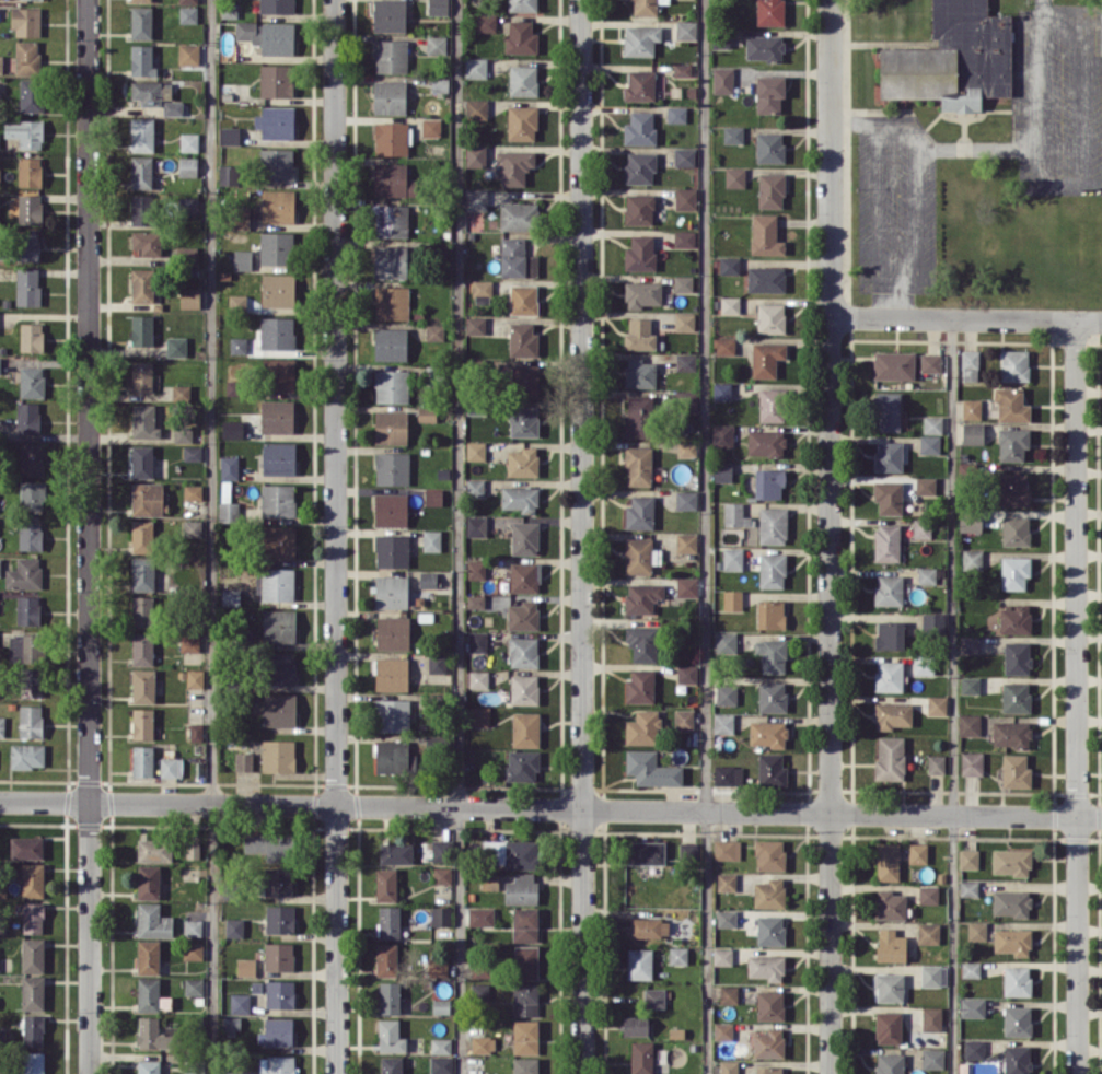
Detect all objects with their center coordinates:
building: (140, 0)
building: (187, 1)
building: (522, 5)
building: (276, 7)
building: (438, 7)
building: (647, 7)
building: (769, 12)
building: (188, 14)
building: (388, 15)
building: (26, 21)
building: (140, 22)
building: (486, 23)
building: (685, 30)
building: (268, 36)
building: (520, 37)
building: (640, 39)
building: (436, 44)
building: (764, 47)
building: (188, 54)
building: (390, 56)
building: (27, 57)
building: (952, 58)
building: (141, 60)
building: (1, 63)
building: (475, 67)
building: (682, 69)
building: (276, 80)
building: (522, 80)
building: (722, 80)
building: (440, 84)
building: (639, 84)
building: (146, 92)
building: (165, 92)
building: (769, 93)
building: (31, 94)
building: (388, 96)
building: (172, 107)
building: (476, 108)
building: (676, 114)
building: (276, 121)
building: (522, 122)
building: (431, 127)
building: (639, 128)
road: (1034, 130)
building: (25, 132)
building: (141, 135)
building: (732, 135)
building: (230, 136)
building: (391, 138)
building: (188, 141)
building: (769, 147)
building: (475, 155)
building: (684, 156)
building: (277, 164)
building: (187, 166)
building: (514, 166)
building: (639, 167)
building: (30, 171)
building: (141, 172)
building: (229, 174)
building: (0, 177)
building: (734, 177)
building: (392, 180)
road: (914, 185)
building: (770, 189)
building: (685, 198)
building: (476, 199)
building: (186, 206)
building: (277, 206)
building: (30, 208)
road: (878, 208)
building: (142, 209)
building: (639, 209)
building: (518, 215)
building: (239, 218)
building: (391, 221)
building: (765, 234)
building: (684, 238)
building: (147, 243)
building: (27, 246)
building: (276, 247)
building: (186, 253)
building: (639, 253)
building: (517, 258)
building: (242, 259)
building: (390, 261)
building: (729, 265)
building: (766, 279)
building: (683, 283)
building: (142, 285)
building: (27, 287)
building: (278, 290)
building: (482, 291)
building: (642, 293)
building: (189, 297)
building: (523, 299)
building: (237, 302)
building: (391, 302)
building: (730, 304)
building: (770, 317)
road: (965, 320)
building: (684, 322)
building: (475, 325)
building: (141, 329)
building: (434, 331)
building: (277, 332)
building: (639, 335)
building: (31, 337)
building: (522, 339)
building: (390, 343)
building: (237, 345)
building: (176, 346)
building: (724, 346)
building: (766, 359)
building: (685, 361)
building: (930, 362)
building: (0, 364)
building: (893, 364)
building: (970, 364)
building: (1014, 364)
building: (639, 373)
building: (279, 374)
building: (141, 375)
building: (524, 381)
building: (31, 382)
building: (392, 385)
building: (234, 387)
building: (721, 390)
building: (181, 393)
building: (685, 401)
building: (770, 404)
building: (1011, 405)
building: (971, 408)
building: (886, 411)
building: (427, 413)
building: (276, 416)
building: (638, 416)
building: (27, 418)
building: (144, 421)
building: (523, 421)
building: (931, 424)
building: (391, 427)
building: (232, 429)
building: (183, 432)
building: (972, 433)
building: (722, 435)
building: (766, 442)
building: (1012, 443)
building: (929, 444)
building: (687, 448)
building: (475, 450)
building: (192, 453)
building: (888, 456)
building: (278, 458)
building: (31, 460)
building: (141, 462)
building: (522, 462)
building: (638, 465)
building: (229, 467)
building: (392, 468)
building: (722, 471)
building: (769, 482)
building: (925, 485)
building: (475, 488)
building: (1013, 489)
building: (193, 491)
building: (32, 494)
building: (432, 497)
building: (888, 497)
building: (147, 499)
building: (520, 499)
building: (277, 500)
building: (686, 500)
building: (391, 509)
building: (639, 512)
building: (734, 515)
building: (773, 525)
building: (476, 526)
building: (193, 527)
building: (921, 528)
building: (1014, 530)
building: (30, 535)
building: (142, 536)
road: (211, 536)
road: (336, 536)
road: (459, 536)
road: (830, 536)
road: (89, 537)
road: (583, 537)
road: (706, 537)
building: (524, 538)
building: (431, 540)
building: (686, 541)
building: (279, 542)
building: (886, 542)
building: (392, 550)
building: (640, 556)
building: (732, 558)
building: (972, 559)
building: (0, 565)
building: (476, 569)
building: (772, 570)
building: (1014, 572)
building: (24, 573)
building: (142, 573)
building: (926, 574)
building: (525, 576)
building: (428, 580)
building: (275, 584)
building: (686, 586)
building: (889, 589)
building: (391, 592)
building: (230, 596)
building: (642, 597)
building: (732, 599)
building: (475, 602)
building: (27, 610)
building: (142, 610)
building: (770, 614)
building: (523, 615)
building: (1016, 618)
building: (932, 623)
building: (279, 626)
building: (392, 632)
building: (890, 634)
building: (477, 641)
building: (189, 642)
building: (642, 642)
building: (726, 642)
building: (968, 643)
building: (25, 647)
building: (141, 649)
building: (523, 652)
building: (772, 654)
building: (1017, 657)
building: (436, 663)
building: (923, 664)
building: (281, 667)
building: (686, 673)
building: (391, 674)
building: (889, 676)
building: (195, 678)
building: (476, 678)
building: (30, 681)
building: (968, 685)
building: (143, 686)
building: (639, 686)
building: (524, 689)
building: (726, 694)
building: (772, 696)
road: (952, 697)
building: (1016, 697)
road: (1077, 698)
building: (937, 704)
building: (279, 710)
building: (892, 714)
building: (392, 715)
building: (479, 715)
building: (684, 719)
building: (31, 721)
building: (142, 723)
building: (723, 723)
building: (968, 724)
building: (2, 726)
building: (642, 727)
building: (525, 729)
building: (195, 732)
building: (767, 733)
building: (1011, 734)
building: (26, 756)
building: (278, 756)
building: (392, 756)
building: (890, 757)
building: (142, 760)
building: (243, 761)
building: (971, 762)
building: (936, 763)
building: (522, 766)
building: (171, 767)
building: (651, 769)
building: (772, 769)
building: (1014, 771)
building: (727, 774)
road: (550, 809)
building: (271, 845)
building: (25, 848)
building: (727, 849)
building: (154, 850)
building: (193, 850)
building: (441, 850)
building: (687, 850)
building: (646, 852)
building: (917, 852)
building: (395, 853)
building: (511, 853)
building: (769, 854)
building: (967, 859)
building: (886, 861)
building: (1010, 861)
building: (442, 874)
building: (32, 879)
building: (278, 880)
building: (490, 880)
building: (149, 882)
building: (726, 882)
building: (385, 884)
building: (968, 888)
building: (521, 889)
building: (768, 892)
building: (928, 895)
building: (1010, 902)
building: (889, 904)
building: (441, 915)
building: (480, 915)
building: (33, 918)
building: (726, 918)
building: (279, 919)
building: (153, 921)
building: (388, 922)
building: (525, 924)
building: (649, 926)
building: (194, 927)
building: (234, 927)
building: (769, 930)
building: (976, 930)
building: (928, 933)
building: (1012, 941)
building: (890, 945)
building: (193, 950)
building: (33, 955)
building: (677, 955)
building: (148, 956)
building: (278, 956)
building: (722, 956)
building: (386, 959)
building: (525, 961)
building: (639, 962)
building: (245, 967)
building: (766, 967)
building: (970, 969)
building: (480, 970)
building: (933, 974)
building: (1017, 980)
building: (193, 987)
building: (889, 987)
building: (33, 992)
building: (479, 992)
building: (280, 993)
building: (148, 994)
building: (729, 994)
building: (388, 997)
building: (653, 997)
building: (524, 999)
building: (240, 1003)
building: (769, 1004)
building: (442, 1005)
building: (972, 1006)
building: (931, 1018)
building: (1017, 1020)
building: (231, 1023)
building: (635, 1025)
building: (888, 1027)
building: (33, 1030)
building: (722, 1030)
building: (278, 1031)
building: (154, 1032)
building: (390, 1036)
building: (525, 1037)
building: (768, 1042)
building: (483, 1043)
building: (441, 1046)
building: (973, 1048)
building: (641, 1058)
building: (932, 1058)
building: (1017, 1060)
building: (32, 1062)
building: (889, 1063)
building: (278, 1064)
building: (391, 1064)
building: (441, 1064)
building: (525, 1065)
building: (148, 1066)
building: (194, 1066)
building: (728, 1066)
building: (768, 1070)
building: (4, 1072)
building: (237, 1072)
building: (478, 1073)

